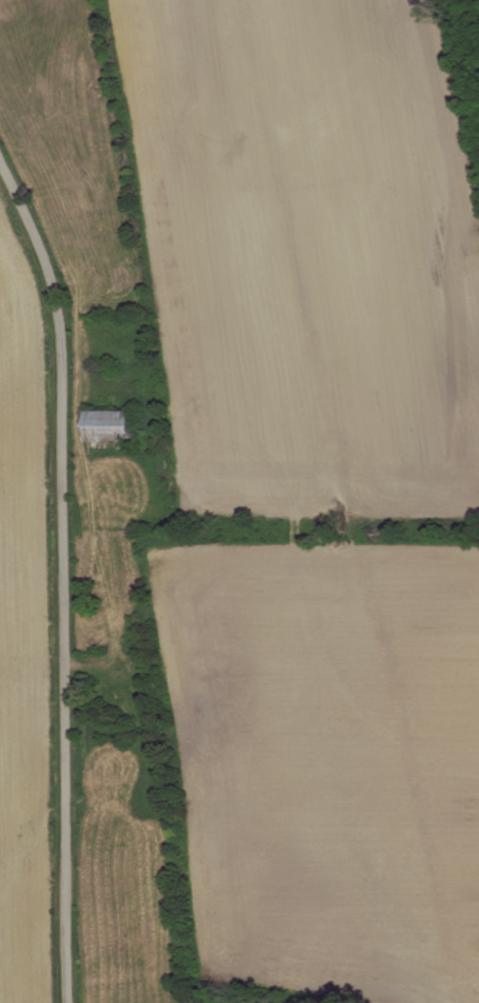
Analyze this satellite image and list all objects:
building: (114, 425)
road: (66, 572)
road: (33, 640)

